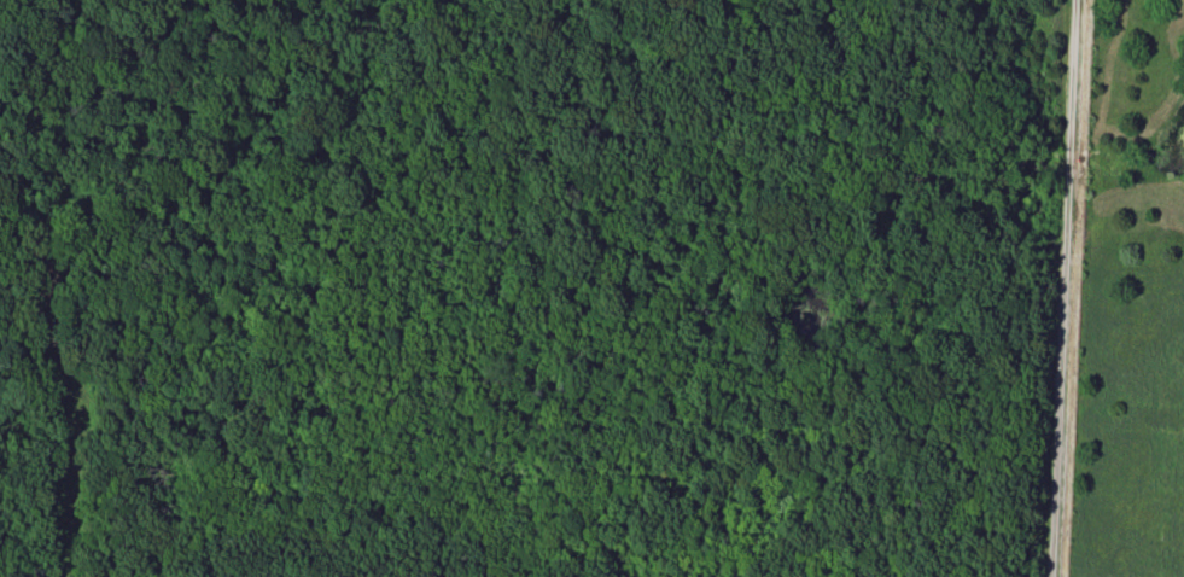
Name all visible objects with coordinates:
road: (1051, 288)

